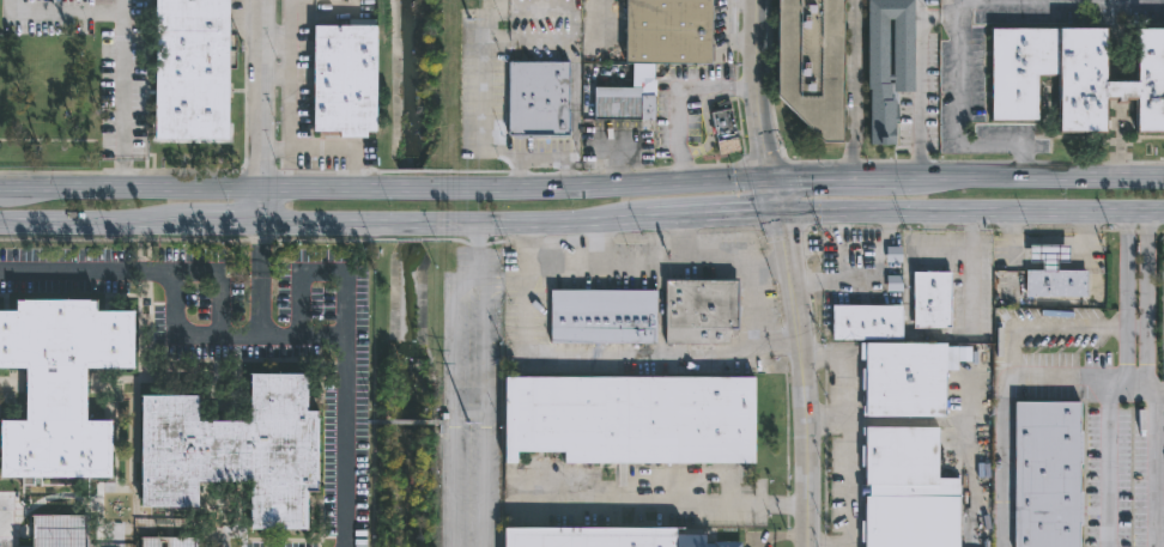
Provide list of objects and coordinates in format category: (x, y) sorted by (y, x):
road: (1062, 0)
road: (62, 14)
power tower: (467, 22)
building: (667, 31)
road: (520, 39)
building: (811, 63)
building: (889, 65)
building: (189, 69)
road: (126, 71)
road: (962, 72)
building: (1074, 77)
building: (344, 78)
road: (754, 89)
road: (855, 90)
road: (917, 90)
road: (261, 95)
building: (533, 98)
building: (618, 103)
building: (721, 128)
road: (1010, 145)
road: (1036, 145)
road: (126, 150)
road: (541, 157)
road: (766, 159)
road: (5, 171)
road: (126, 174)
traffic signals: (770, 178)
road: (868, 180)
road: (1066, 180)
road: (35, 188)
road: (419, 188)
road: (774, 193)
road: (260, 207)
traffic signals: (777, 208)
road: (970, 209)
road: (689, 212)
road: (55, 223)
road: (430, 223)
road: (186, 224)
road: (976, 227)
road: (786, 232)
road: (683, 238)
road: (383, 239)
road: (601, 239)
road: (260, 250)
building: (865, 262)
road: (657, 265)
road: (320, 267)
building: (1053, 273)
road: (490, 280)
road: (514, 281)
road: (1126, 298)
building: (932, 299)
road: (1146, 299)
road: (752, 305)
road: (260, 306)
building: (699, 310)
building: (601, 316)
building: (867, 321)
road: (242, 336)
road: (484, 342)
road: (599, 355)
road: (800, 376)
building: (905, 376)
road: (453, 377)
building: (59, 385)
road: (1144, 387)
parking lot: (471, 399)
road: (468, 412)
road: (1004, 414)
building: (630, 419)
road: (826, 419)
road: (354, 421)
road: (407, 421)
power tower: (466, 426)
road: (444, 437)
road: (847, 448)
building: (235, 451)
road: (1104, 451)
road: (1158, 468)
building: (1047, 474)
road: (484, 479)
building: (904, 490)
road: (672, 503)
building: (59, 531)
building: (600, 537)
road: (781, 537)
building: (166, 542)

